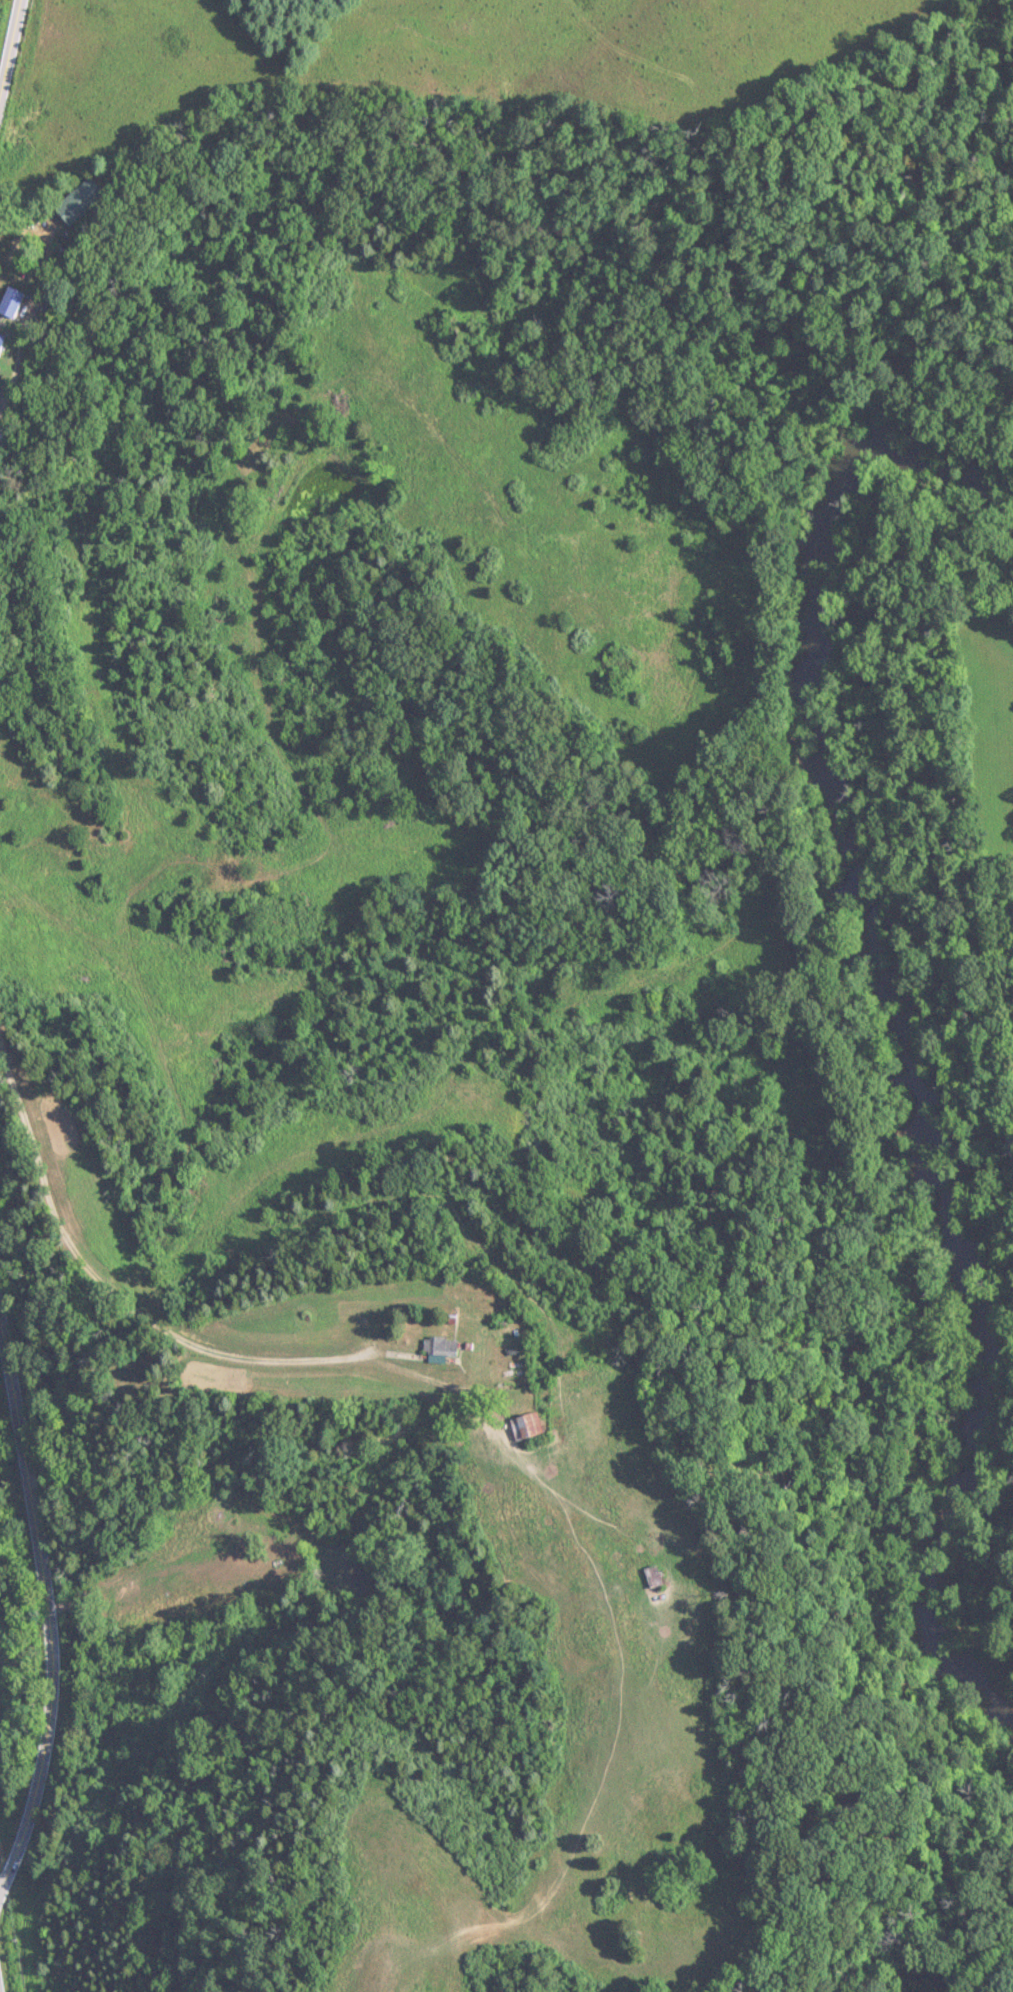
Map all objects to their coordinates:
road: (11, 49)
building: (87, 202)
building: (9, 303)
road: (112, 1298)
building: (442, 1348)
building: (527, 1427)
road: (504, 1444)
building: (651, 1578)
road: (133, 1582)
road: (47, 1609)

